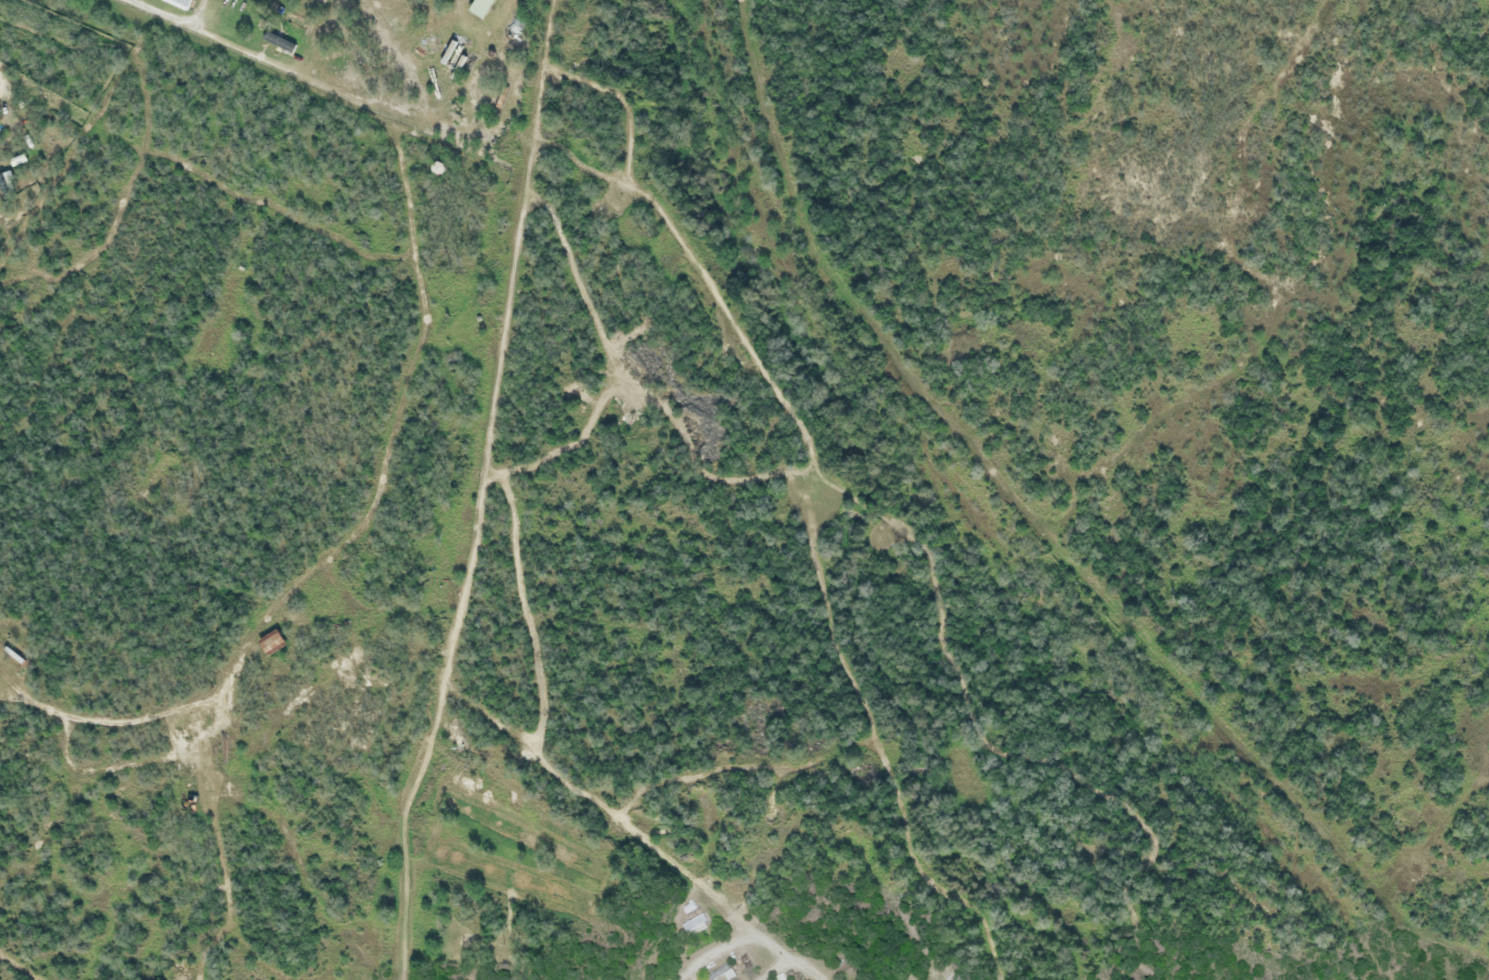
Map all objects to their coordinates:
building: (179, 3)
building: (479, 7)
building: (277, 43)
building: (16, 161)
building: (6, 183)
road: (419, 287)
railway: (1009, 518)
building: (270, 643)
building: (697, 927)
road: (747, 937)
road: (772, 971)
building: (722, 974)
building: (952, 977)

